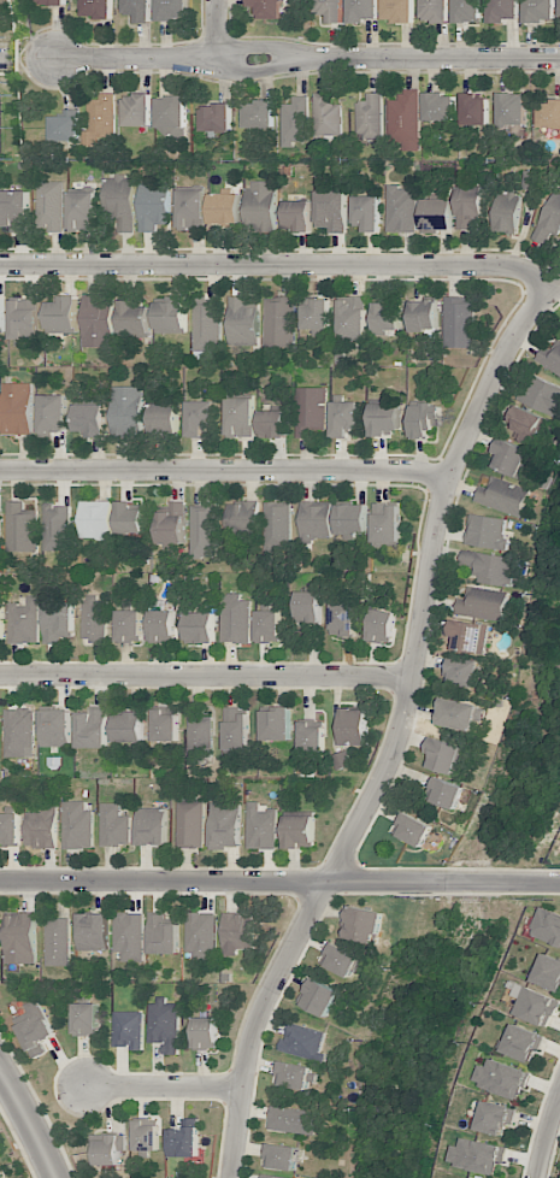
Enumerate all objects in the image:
building: (52, 1)
building: (559, 7)
building: (98, 8)
building: (267, 8)
building: (138, 10)
building: (172, 10)
building: (332, 10)
building: (362, 11)
building: (397, 11)
building: (435, 11)
building: (467, 11)
building: (502, 11)
building: (538, 11)
road: (217, 29)
road: (305, 57)
road: (6, 58)
building: (440, 107)
building: (511, 108)
building: (137, 110)
building: (476, 110)
building: (259, 114)
building: (549, 114)
building: (171, 116)
building: (326, 116)
building: (216, 118)
building: (370, 118)
building: (101, 119)
building: (405, 120)
building: (295, 122)
building: (65, 125)
building: (120, 201)
building: (51, 205)
building: (260, 205)
building: (470, 206)
building: (225, 208)
building: (14, 210)
building: (191, 210)
building: (401, 210)
building: (82, 211)
building: (330, 211)
building: (507, 211)
building: (366, 213)
building: (297, 214)
building: (436, 214)
building: (549, 218)
road: (278, 264)
building: (2, 314)
building: (171, 314)
building: (64, 316)
building: (317, 316)
building: (424, 316)
building: (387, 317)
building: (134, 318)
building: (352, 318)
building: (24, 322)
building: (98, 322)
building: (279, 322)
building: (459, 322)
building: (243, 323)
building: (207, 326)
building: (550, 358)
building: (542, 396)
building: (17, 408)
building: (128, 412)
building: (312, 412)
building: (53, 413)
building: (164, 417)
building: (240, 417)
building: (200, 418)
building: (344, 418)
building: (90, 419)
building: (385, 419)
building: (425, 419)
building: (272, 424)
building: (525, 424)
building: (511, 458)
road: (223, 470)
building: (503, 496)
building: (242, 517)
building: (129, 518)
building: (95, 519)
building: (352, 519)
building: (316, 520)
building: (0, 524)
building: (385, 524)
building: (172, 525)
building: (277, 525)
building: (57, 528)
building: (22, 529)
building: (202, 530)
building: (484, 531)
building: (489, 566)
building: (483, 603)
building: (308, 607)
building: (235, 618)
building: (94, 619)
building: (342, 619)
building: (58, 620)
building: (24, 622)
building: (1, 625)
building: (129, 626)
building: (163, 626)
building: (267, 626)
building: (382, 626)
building: (200, 628)
building: (467, 637)
building: (461, 671)
road: (205, 676)
building: (456, 714)
building: (166, 724)
building: (275, 724)
building: (354, 726)
building: (55, 728)
building: (129, 728)
road: (399, 729)
building: (92, 730)
building: (235, 731)
building: (19, 732)
building: (311, 736)
building: (199, 740)
building: (444, 756)
building: (342, 759)
building: (444, 793)
building: (190, 824)
building: (77, 825)
building: (224, 825)
building: (114, 826)
building: (152, 826)
building: (260, 826)
building: (10, 829)
building: (41, 829)
building: (412, 830)
building: (300, 831)
road: (279, 880)
building: (362, 925)
building: (547, 927)
building: (93, 932)
building: (238, 932)
building: (163, 935)
building: (201, 935)
building: (129, 936)
building: (20, 938)
building: (58, 942)
building: (341, 960)
building: (548, 972)
building: (319, 997)
building: (535, 1006)
building: (86, 1019)
building: (164, 1025)
building: (35, 1029)
building: (129, 1030)
building: (206, 1033)
building: (303, 1042)
building: (521, 1043)
building: (295, 1074)
building: (502, 1078)
road: (163, 1085)
building: (494, 1118)
building: (291, 1120)
road: (29, 1124)
building: (147, 1135)
road: (548, 1138)
building: (184, 1139)
building: (106, 1149)
building: (477, 1155)
building: (279, 1156)
building: (272, 1177)

